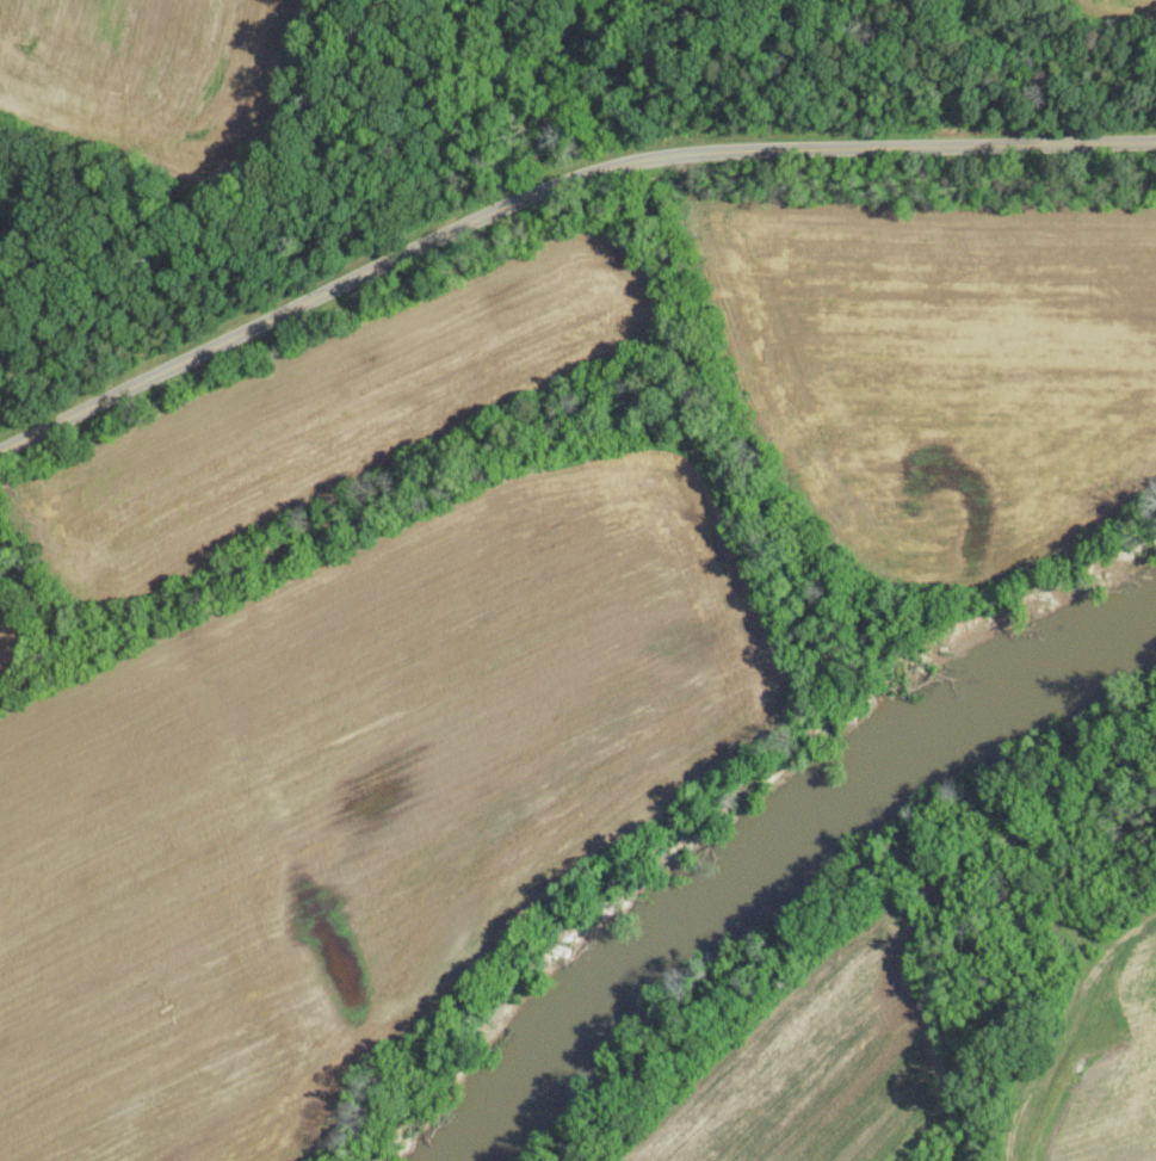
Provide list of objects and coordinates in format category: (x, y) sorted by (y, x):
road: (550, 186)
river: (1028, 688)
river: (890, 771)
river: (647, 947)

